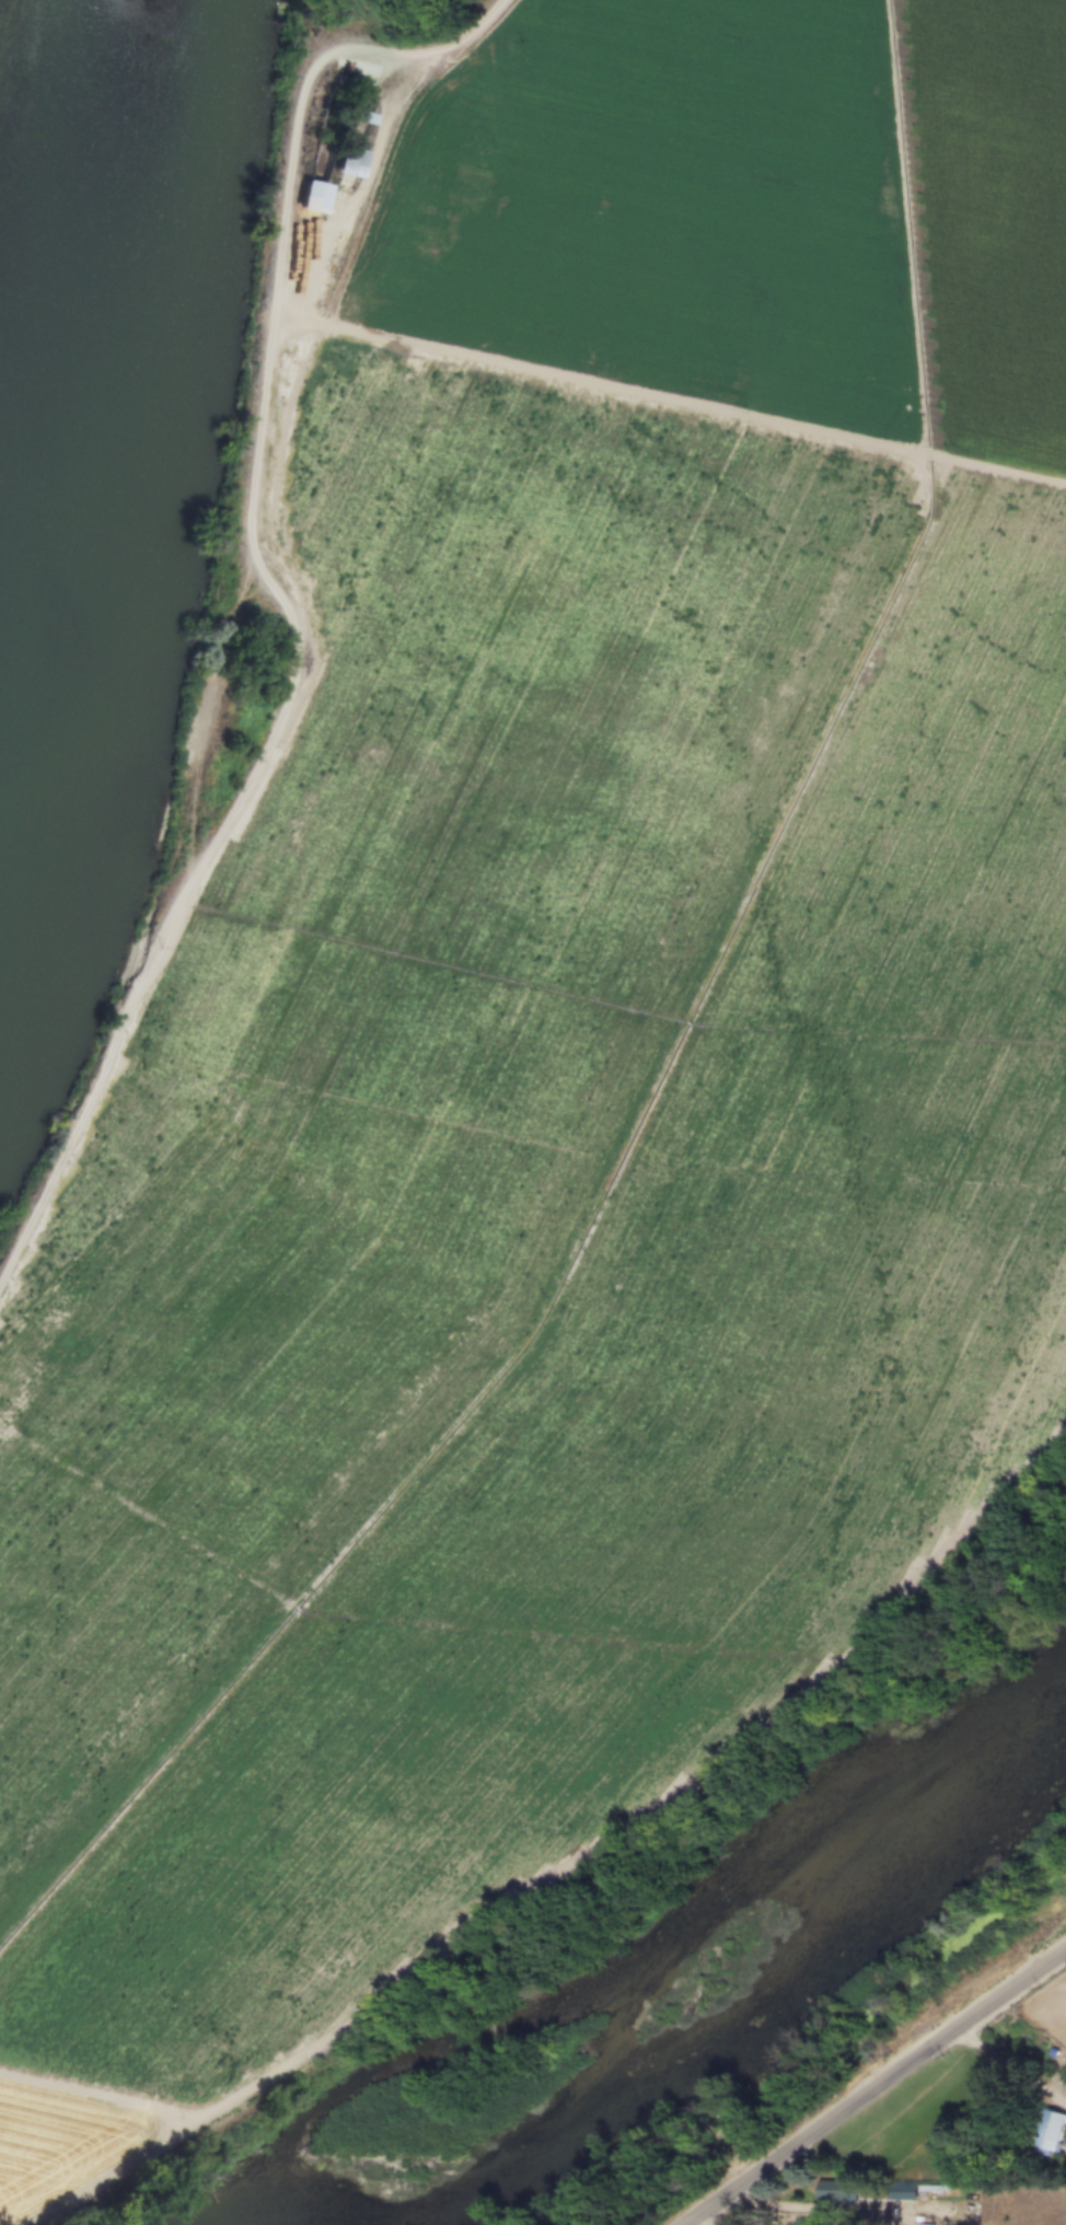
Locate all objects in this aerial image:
building: (355, 141)
building: (313, 198)
river: (54, 216)
road: (277, 591)
road: (577, 1869)
road: (1012, 2067)
road: (879, 2085)
building: (1052, 2131)
building: (900, 2191)
building: (838, 2194)
road: (841, 2209)
road: (706, 2223)

